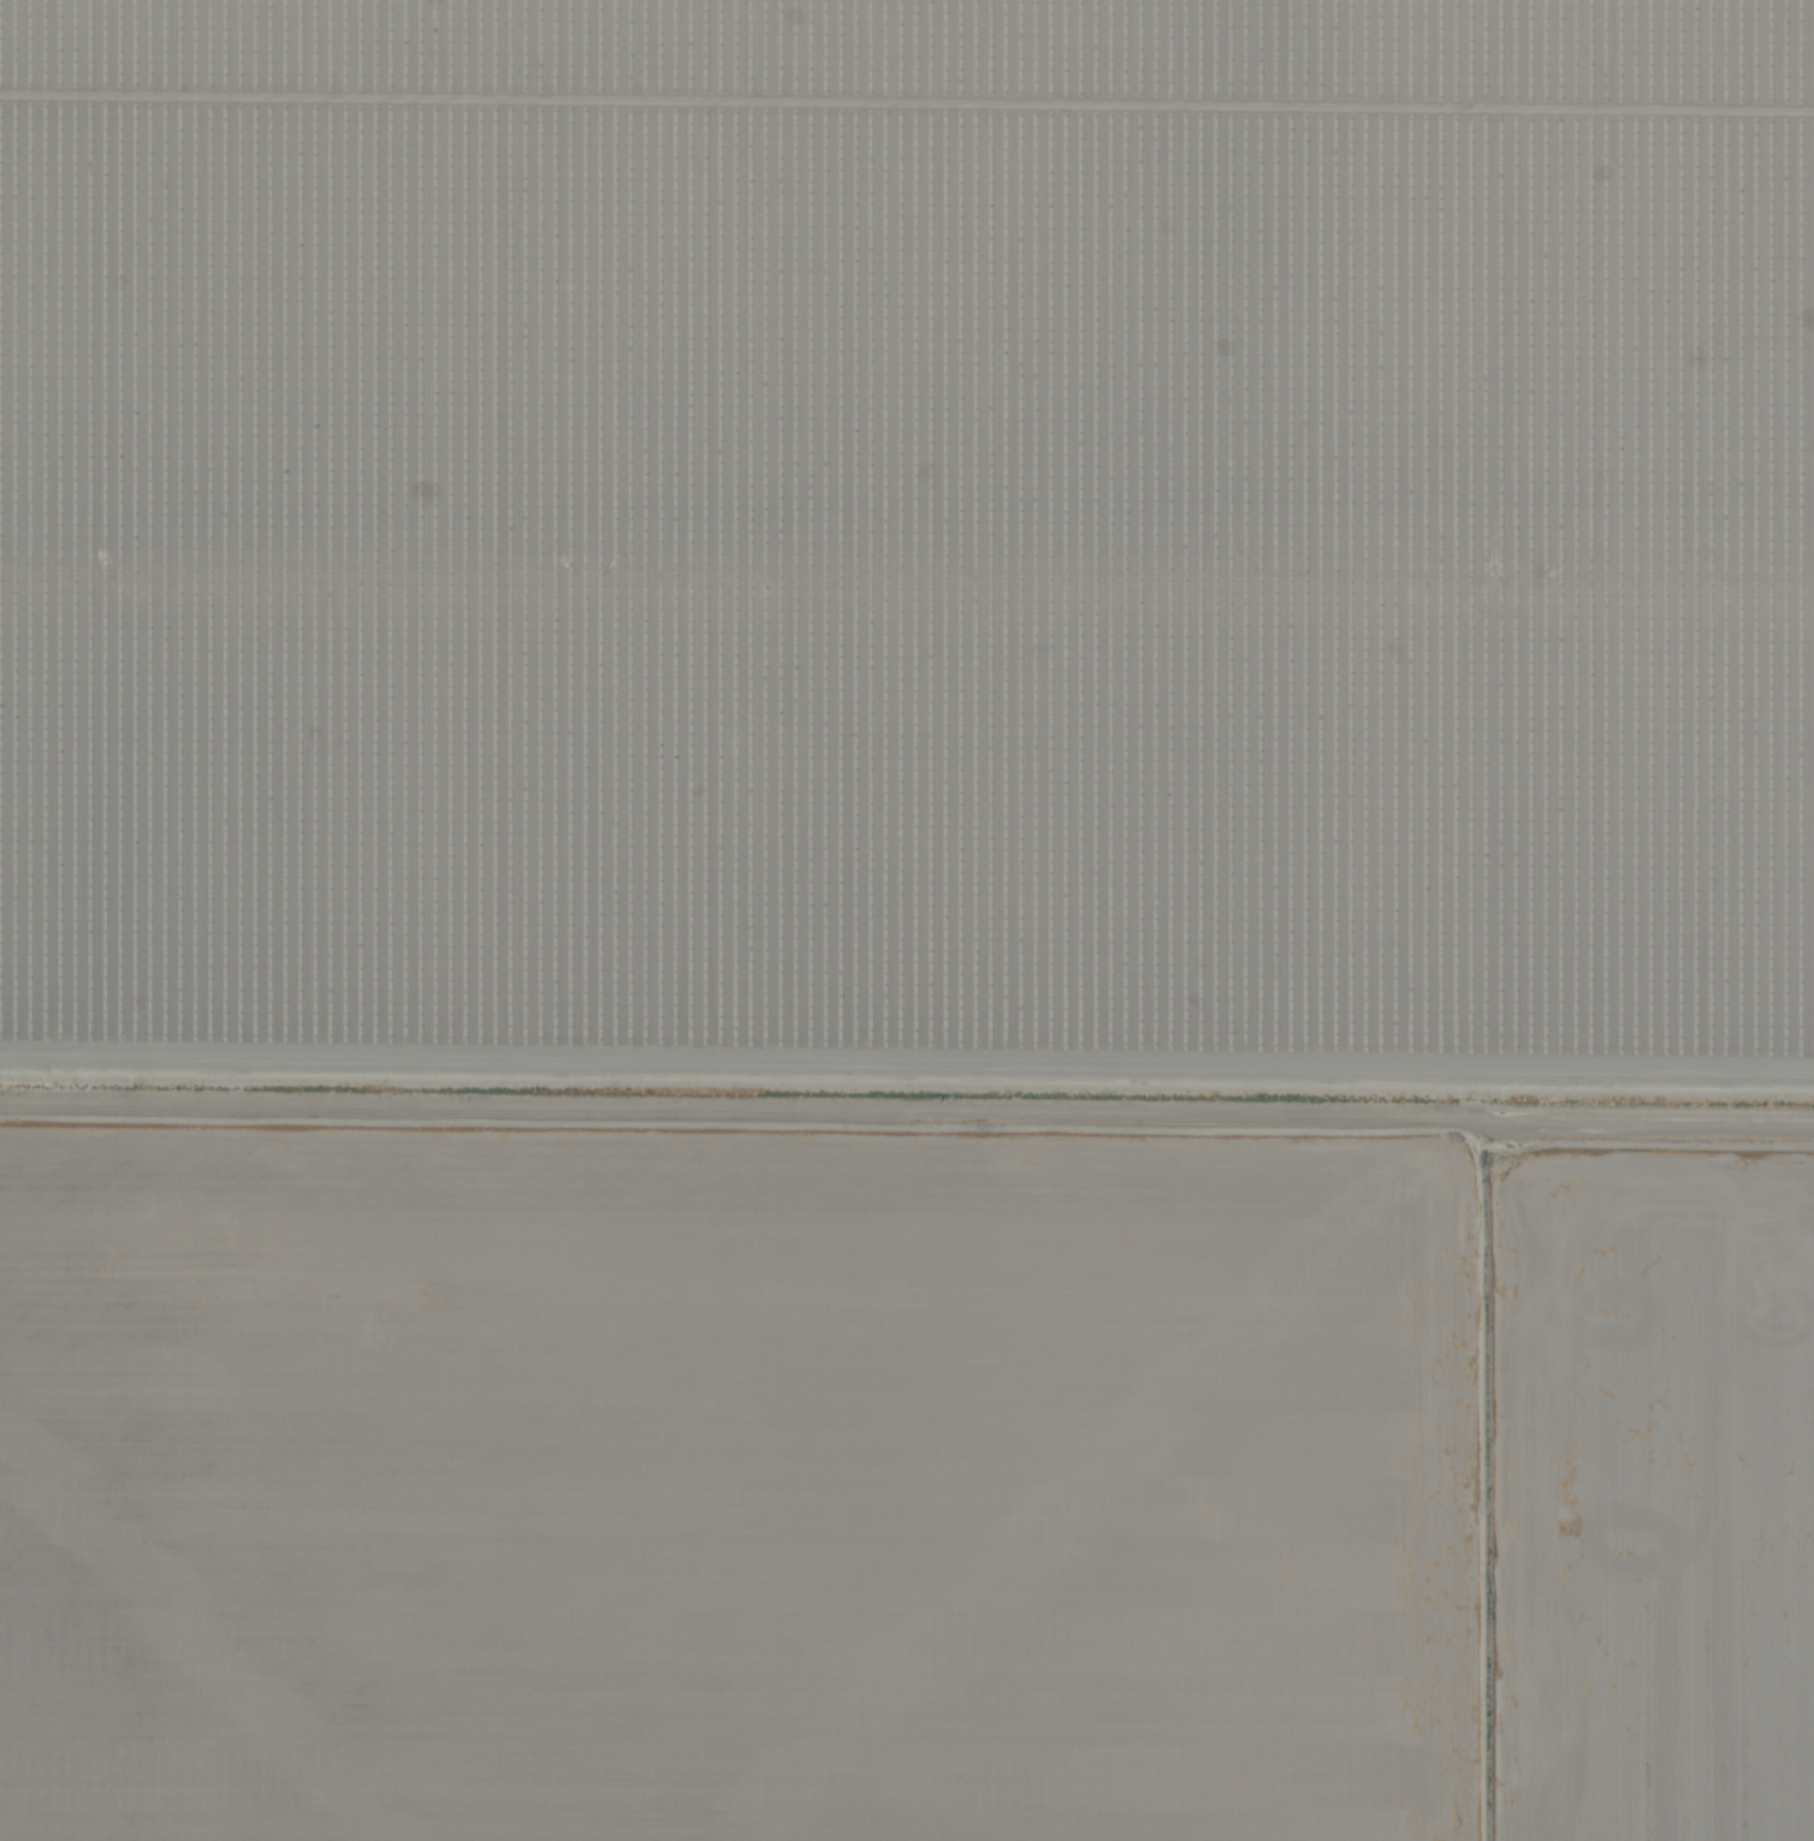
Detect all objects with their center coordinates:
crop: (907, 920)

